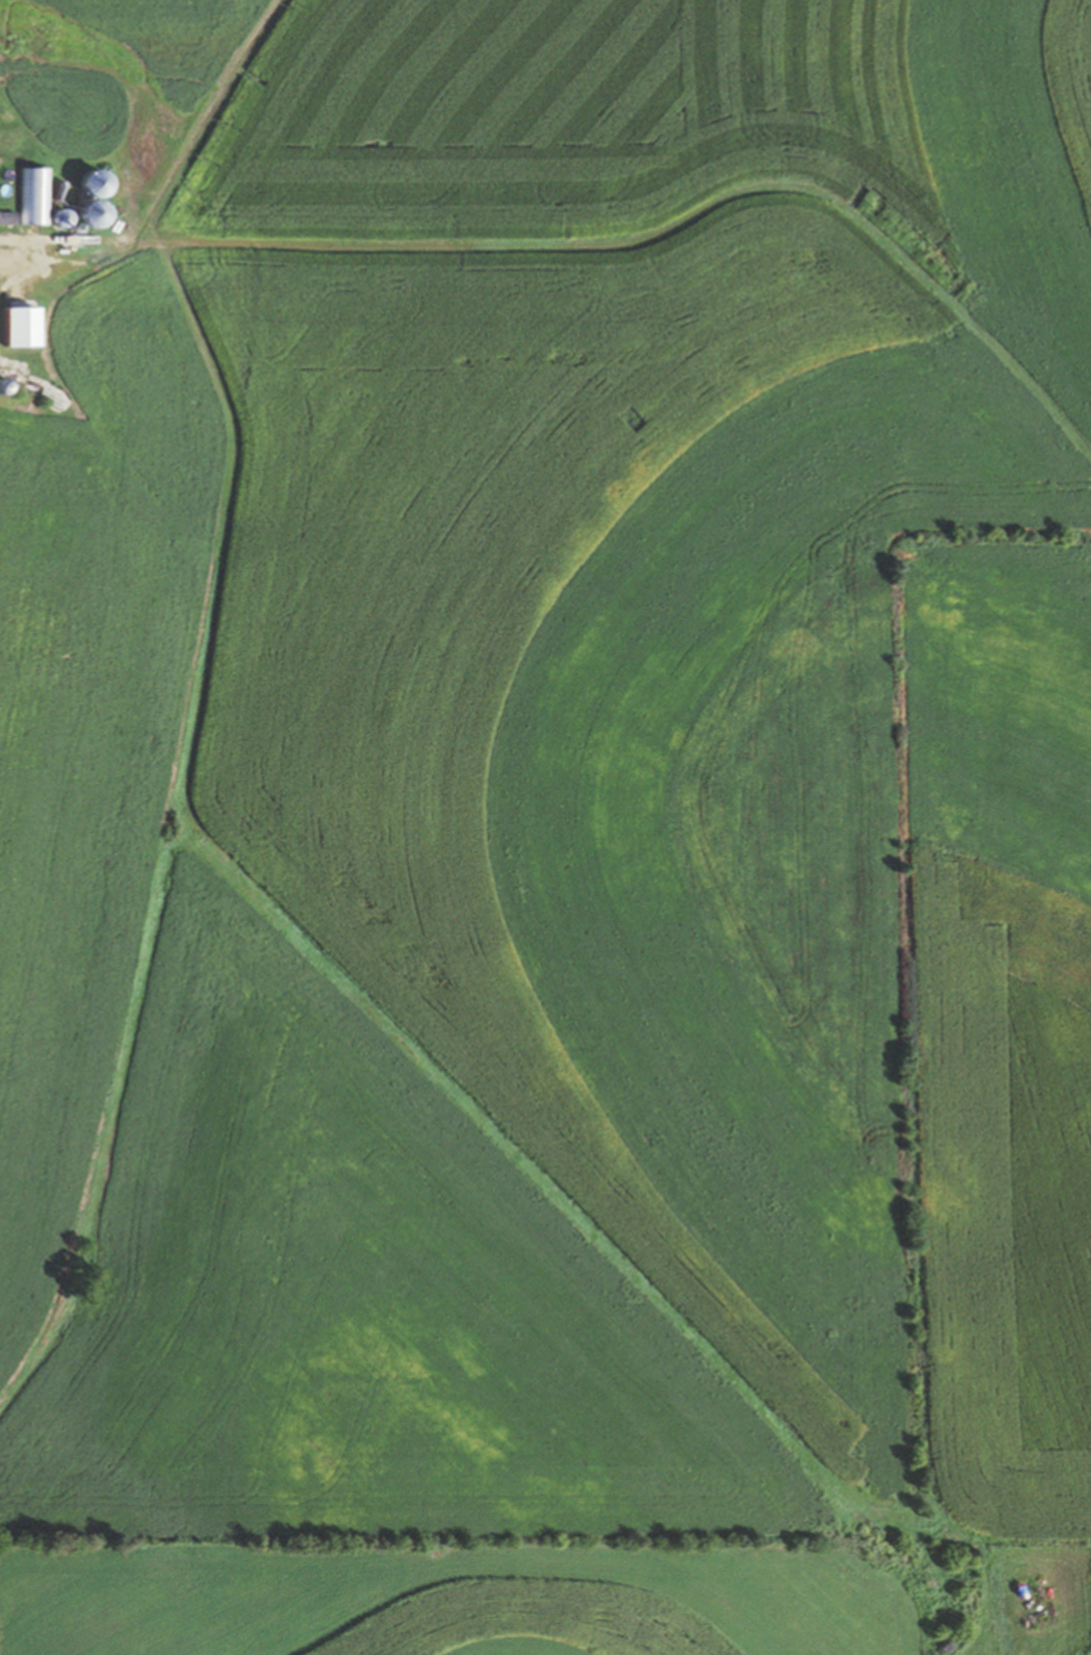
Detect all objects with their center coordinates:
building: (33, 195)
building: (5, 217)
road: (8, 242)

